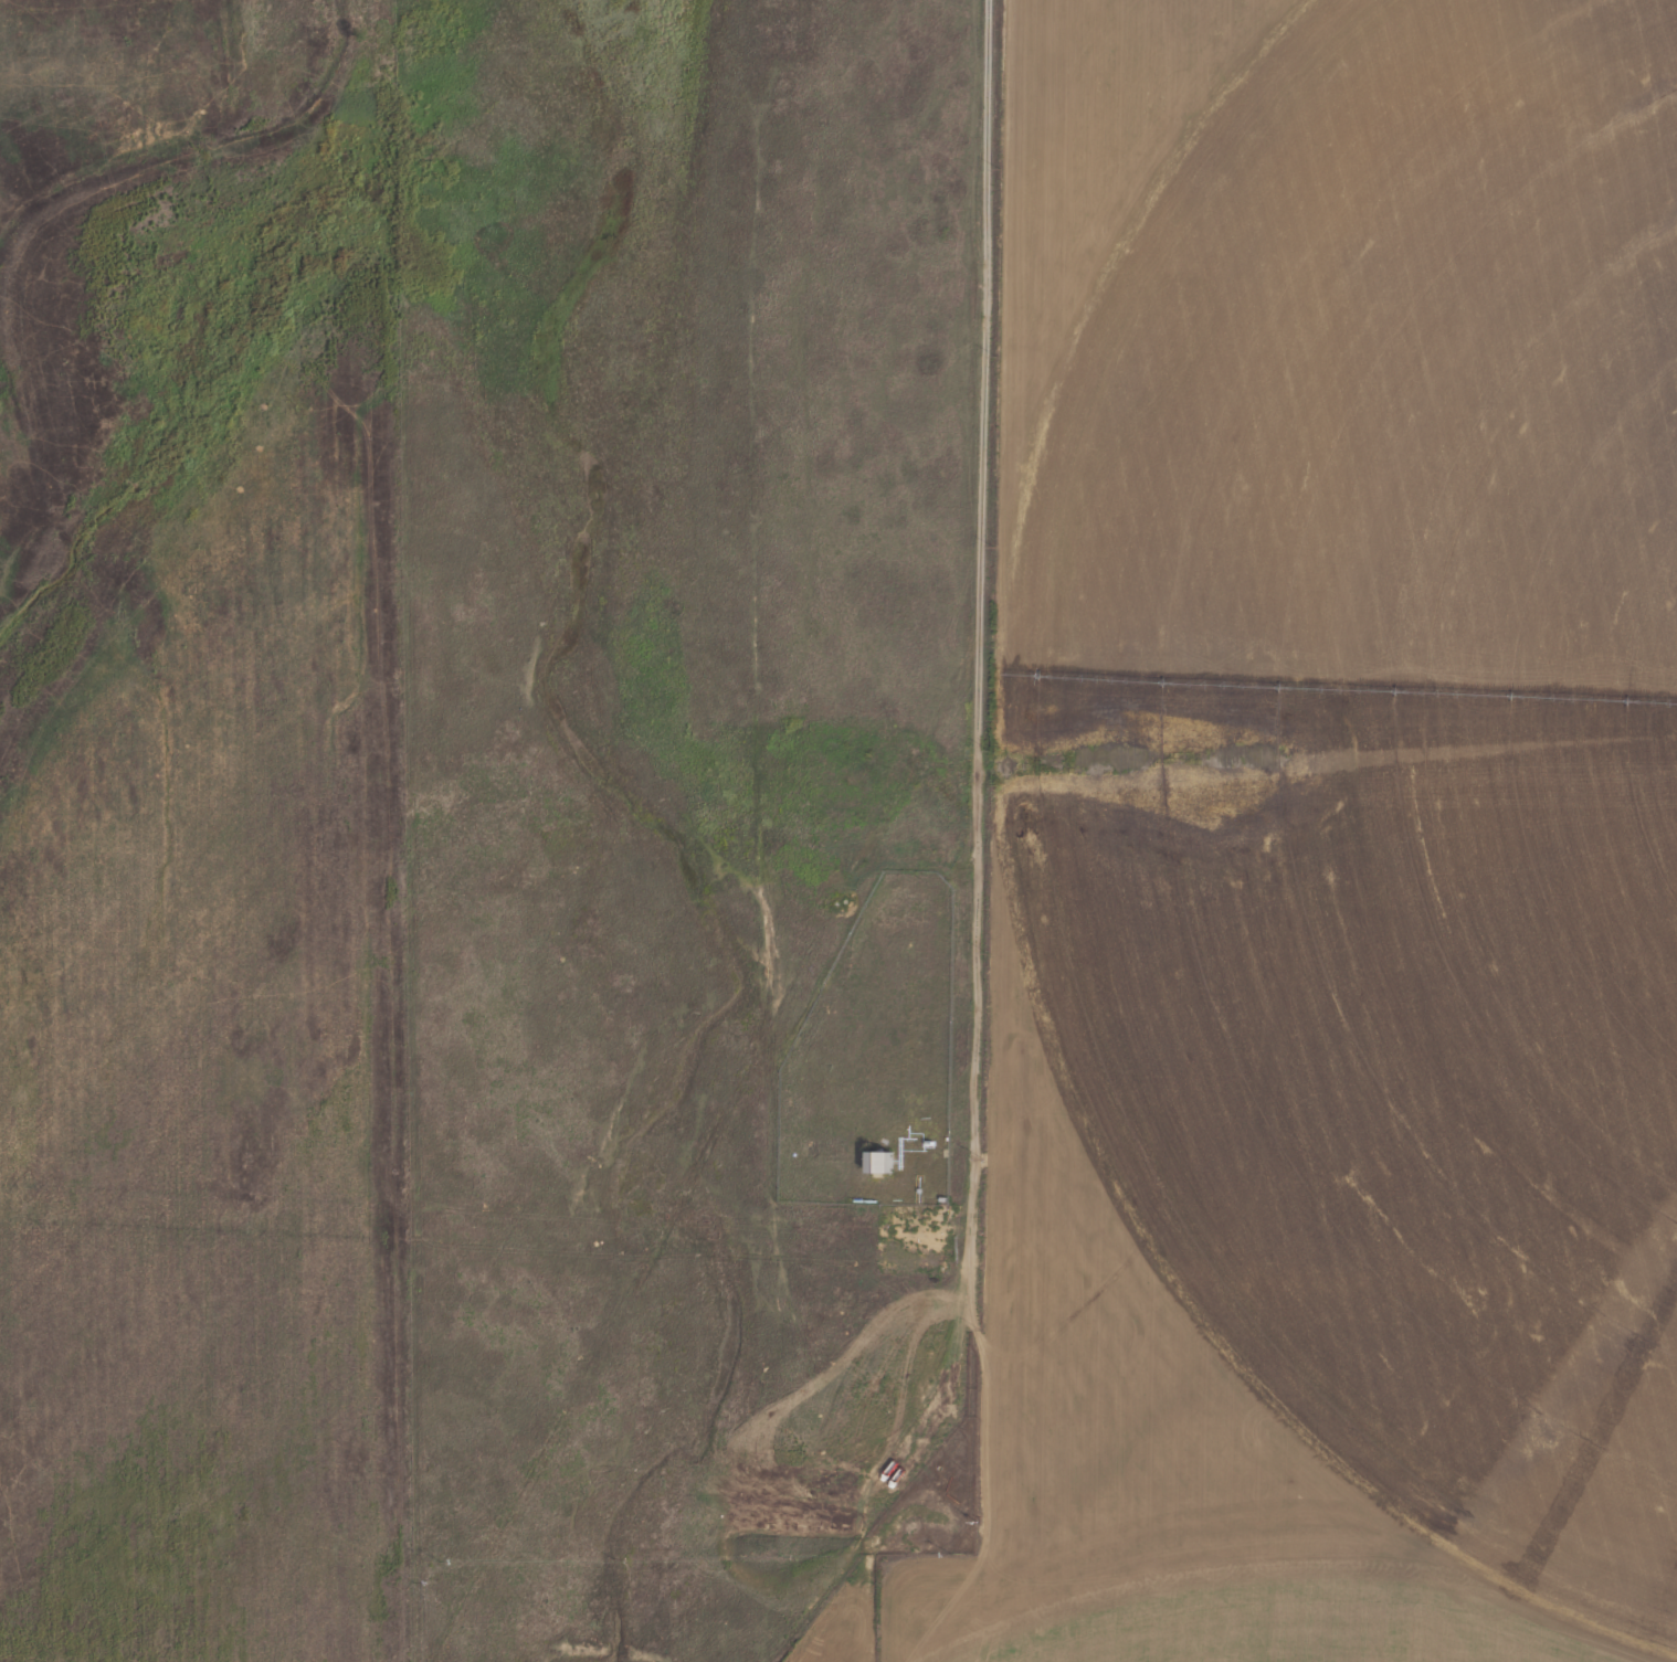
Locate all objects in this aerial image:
building: (883, 1161)
building: (906, 1565)

